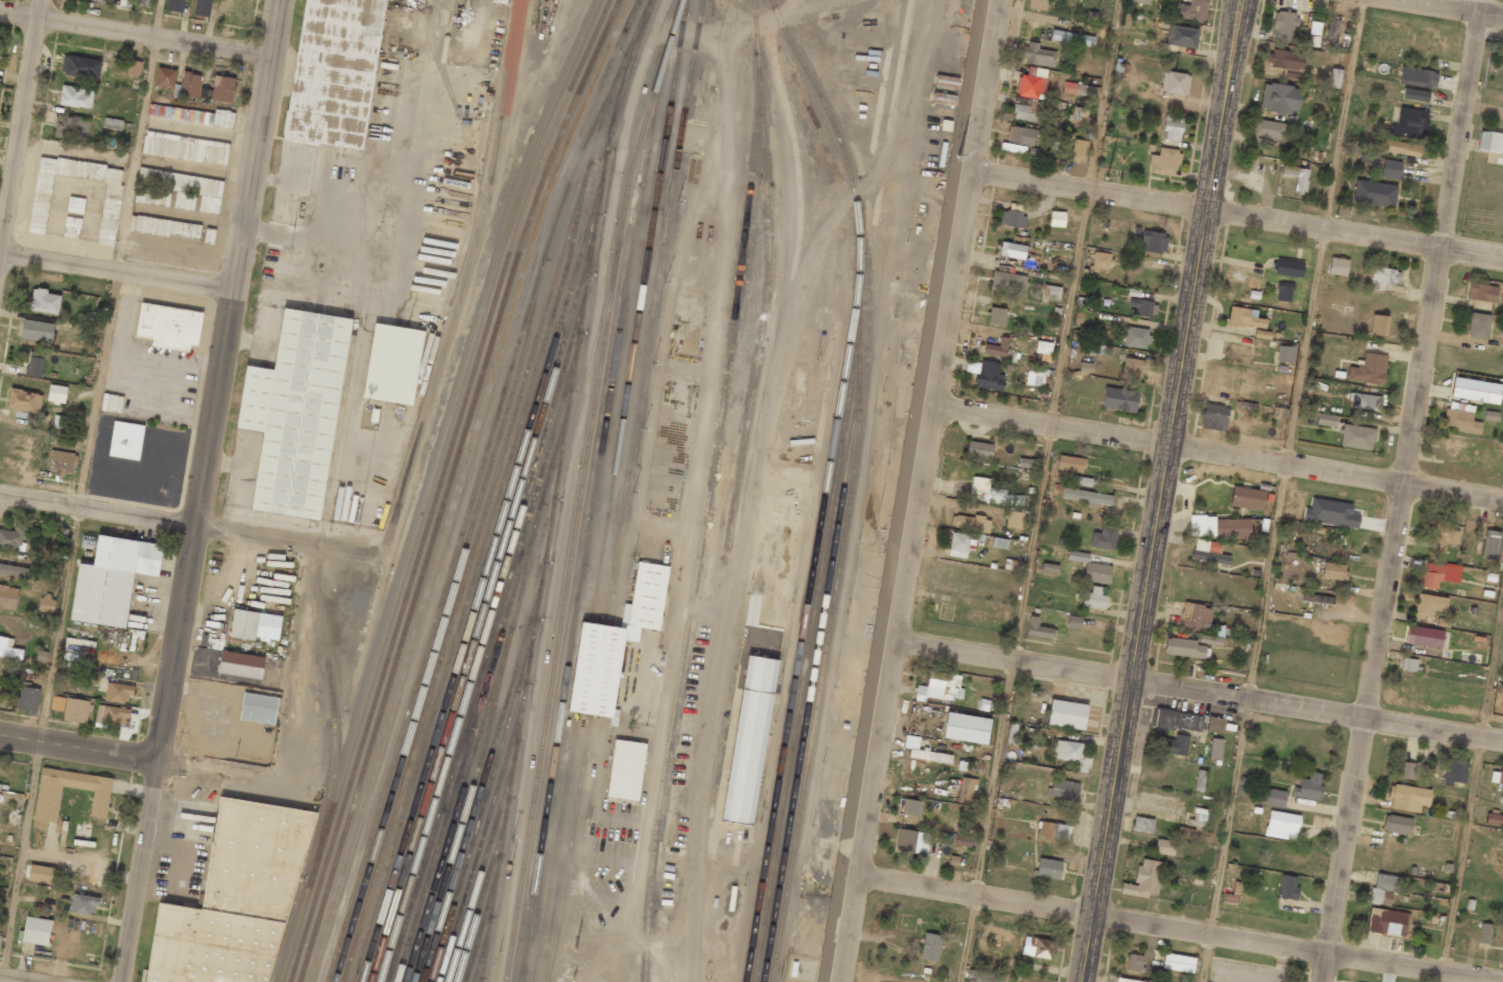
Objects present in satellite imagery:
building: (390, 0)
building: (1139, 1)
building: (1037, 4)
building: (175, 5)
building: (202, 8)
road: (1446, 8)
building: (1193, 10)
road: (481, 23)
building: (1282, 26)
building: (1314, 28)
building: (1332, 30)
road: (137, 32)
building: (1181, 36)
building: (1072, 38)
building: (1036, 55)
building: (1283, 59)
building: (115, 60)
building: (80, 66)
building: (134, 67)
building: (335, 72)
railway: (607, 74)
building: (165, 77)
building: (1417, 77)
building: (1334, 78)
building: (1031, 83)
building: (1174, 83)
building: (188, 86)
building: (223, 89)
building: (1078, 89)
building: (205, 93)
building: (1415, 95)
building: (75, 96)
building: (1279, 98)
building: (1026, 110)
building: (192, 115)
building: (112, 124)
building: (1410, 124)
road: (19, 126)
building: (71, 128)
building: (1171, 128)
building: (1268, 129)
building: (1020, 135)
building: (1489, 141)
building: (185, 148)
building: (1012, 148)
building: (1402, 148)
building: (1078, 150)
power tower: (957, 156)
building: (1369, 159)
building: (1164, 162)
building: (1390, 169)
building: (1296, 176)
power tower: (1105, 177)
road: (277, 180)
building: (178, 190)
building: (1373, 193)
road: (334, 199)
road: (409, 204)
building: (75, 205)
building: (110, 206)
power tower: (1337, 215)
road: (1240, 217)
building: (1011, 218)
building: (1056, 219)
building: (71, 227)
building: (164, 227)
railway: (593, 236)
building: (1152, 242)
building: (1012, 250)
building: (1100, 261)
building: (1337, 266)
building: (1288, 268)
road: (117, 273)
building: (1383, 277)
building: (1008, 283)
building: (1050, 292)
building: (1283, 292)
building: (1481, 292)
railway: (520, 294)
building: (44, 301)
building: (1141, 307)
road: (463, 313)
building: (996, 316)
building: (1244, 318)
building: (1378, 325)
building: (168, 326)
building: (1477, 326)
road: (1066, 329)
building: (36, 330)
building: (1136, 337)
building: (996, 348)
road: (1303, 348)
building: (1285, 354)
road: (359, 357)
building: (35, 364)
building: (392, 364)
building: (1085, 367)
building: (1132, 368)
building: (1368, 369)
building: (1035, 375)
building: (989, 376)
road: (220, 381)
building: (1475, 390)
building: (56, 394)
building: (1119, 399)
building: (24, 401)
building: (1363, 401)
building: (111, 403)
building: (296, 412)
building: (1214, 417)
building: (1460, 417)
building: (1325, 419)
building: (60, 421)
building: (1357, 437)
building: (126, 440)
building: (978, 450)
road: (1218, 451)
building: (61, 462)
building: (1027, 463)
building: (1070, 463)
railway: (851, 484)
railway: (447, 486)
railway: (458, 486)
railway: (429, 487)
railway: (438, 487)
railway: (483, 487)
road: (79, 490)
railway: (624, 490)
road: (920, 490)
railway: (611, 491)
railway: (704, 491)
road: (1164, 491)
road: (1402, 491)
railway: (555, 493)
building: (990, 493)
building: (1087, 496)
building: (1247, 498)
building: (1330, 513)
road: (160, 519)
building: (1014, 519)
building: (970, 523)
railway: (589, 524)
railway: (480, 526)
building: (1226, 527)
building: (1444, 536)
building: (12, 537)
building: (1103, 538)
building: (958, 545)
building: (1490, 545)
building: (1210, 554)
building: (1078, 556)
building: (1048, 568)
building: (14, 571)
building: (1332, 571)
building: (1096, 573)
building: (1437, 575)
railway: (484, 576)
building: (112, 579)
railway: (472, 581)
railway: (435, 592)
building: (8, 597)
building: (1094, 598)
building: (1315, 599)
building: (46, 602)
building: (1429, 604)
railway: (482, 607)
building: (1194, 616)
railway: (803, 621)
building: (1073, 622)
building: (254, 625)
building: (1037, 629)
railway: (432, 630)
railway: (559, 634)
building: (1424, 636)
railway: (482, 639)
building: (1210, 640)
building: (614, 645)
building: (1184, 648)
building: (9, 649)
railway: (806, 651)
railway: (483, 661)
building: (240, 664)
building: (1409, 665)
railway: (812, 676)
building: (940, 687)
road: (1199, 689)
building: (117, 692)
railway: (482, 697)
building: (28, 698)
building: (57, 703)
building: (258, 708)
building: (75, 710)
building: (1066, 714)
building: (111, 716)
road: (286, 724)
building: (1214, 725)
building: (966, 728)
building: (749, 741)
building: (1172, 745)
building: (1215, 748)
road: (78, 749)
building: (923, 751)
building: (1072, 754)
railway: (514, 755)
building: (625, 770)
building: (1405, 770)
building: (1452, 771)
road: (995, 777)
building: (1496, 777)
building: (1199, 780)
railway: (481, 784)
building: (1308, 787)
building: (1063, 789)
building: (966, 790)
building: (1275, 798)
building: (1408, 798)
road: (1472, 799)
building: (47, 804)
building: (911, 807)
railway: (482, 812)
building: (1494, 819)
building: (1396, 824)
building: (1142, 825)
building: (1281, 825)
building: (82, 830)
building: (1053, 831)
building: (964, 834)
road: (1224, 839)
building: (908, 840)
railway: (481, 845)
building: (1164, 847)
building: (1047, 868)
road: (139, 872)
building: (41, 874)
railway: (480, 874)
building: (1144, 879)
building: (1287, 888)
building: (1384, 889)
building: (233, 898)
railway: (480, 899)
building: (83, 904)
building: (1387, 922)
railway: (481, 928)
road: (1177, 929)
building: (36, 930)
building: (1484, 933)
building: (0, 937)
road: (968, 939)
building: (930, 947)
building: (1037, 947)
railway: (481, 957)
building: (1134, 962)
building: (1178, 963)
building: (984, 976)
road: (13, 979)
building: (1126, 980)

